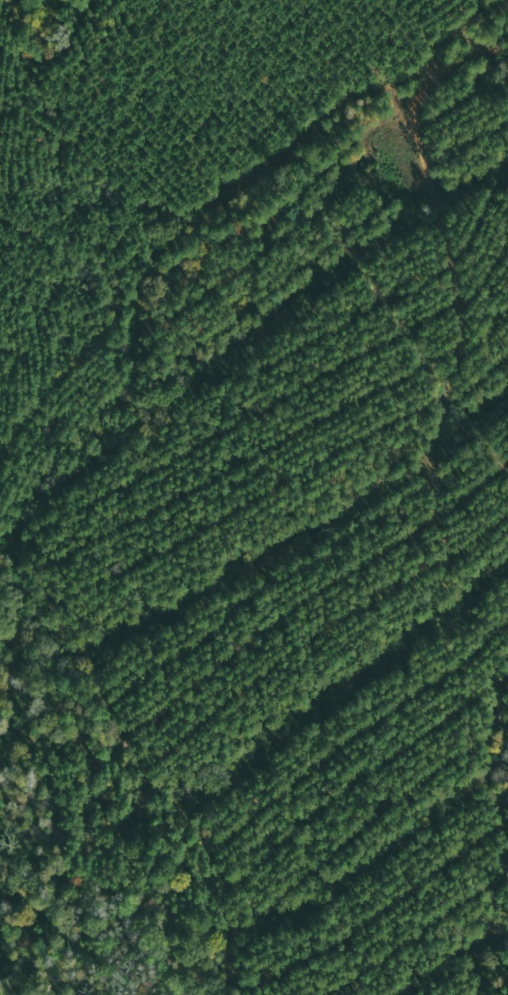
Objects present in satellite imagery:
road: (240, 205)
road: (71, 794)

